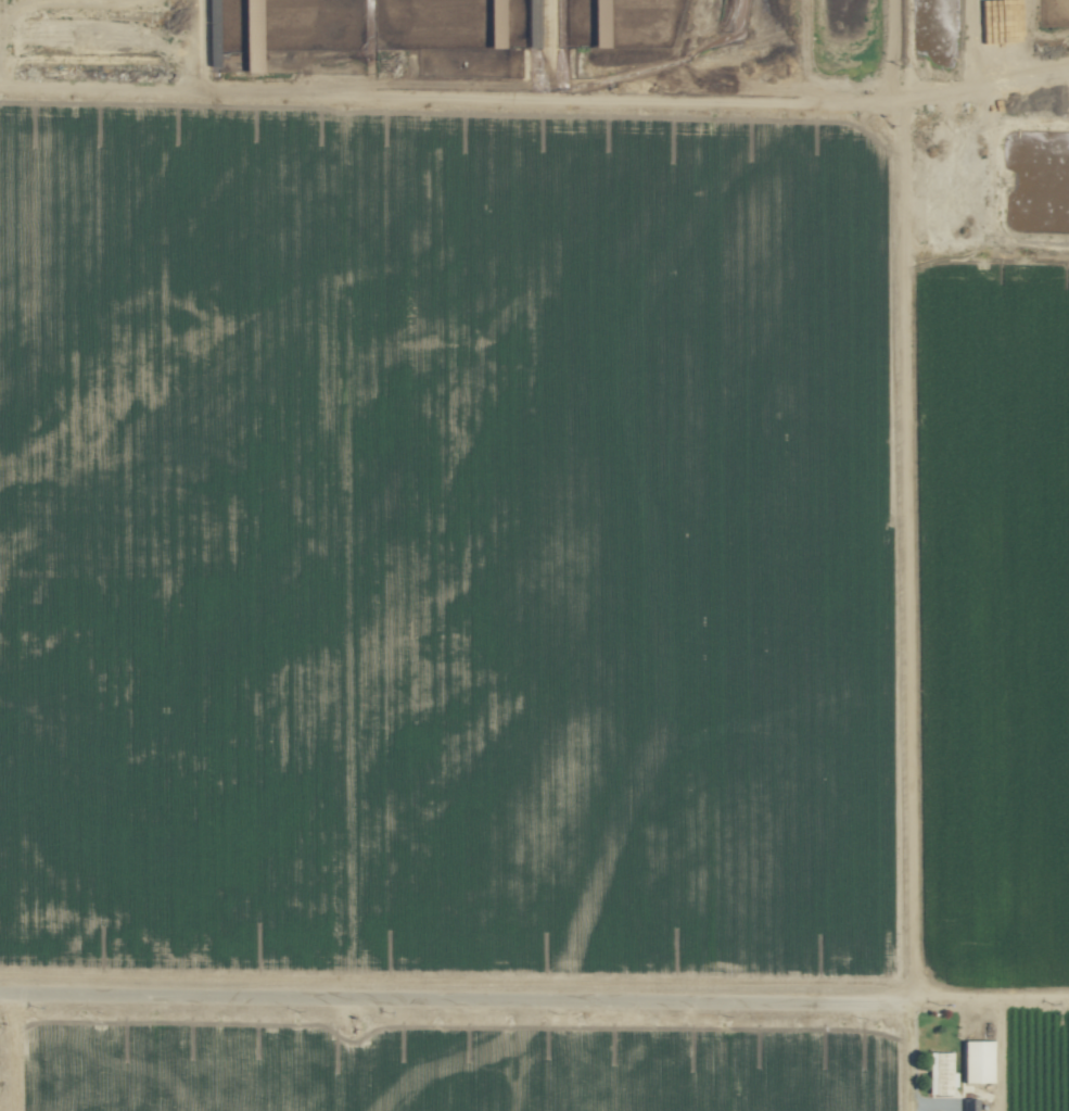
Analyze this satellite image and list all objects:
crop: (657, 78)
crop: (534, 555)
road: (436, 994)
road: (996, 1012)
road: (9, 1050)
building: (975, 1060)
road: (905, 1061)
building: (939, 1073)
building: (971, 1103)
road: (906, 1109)

